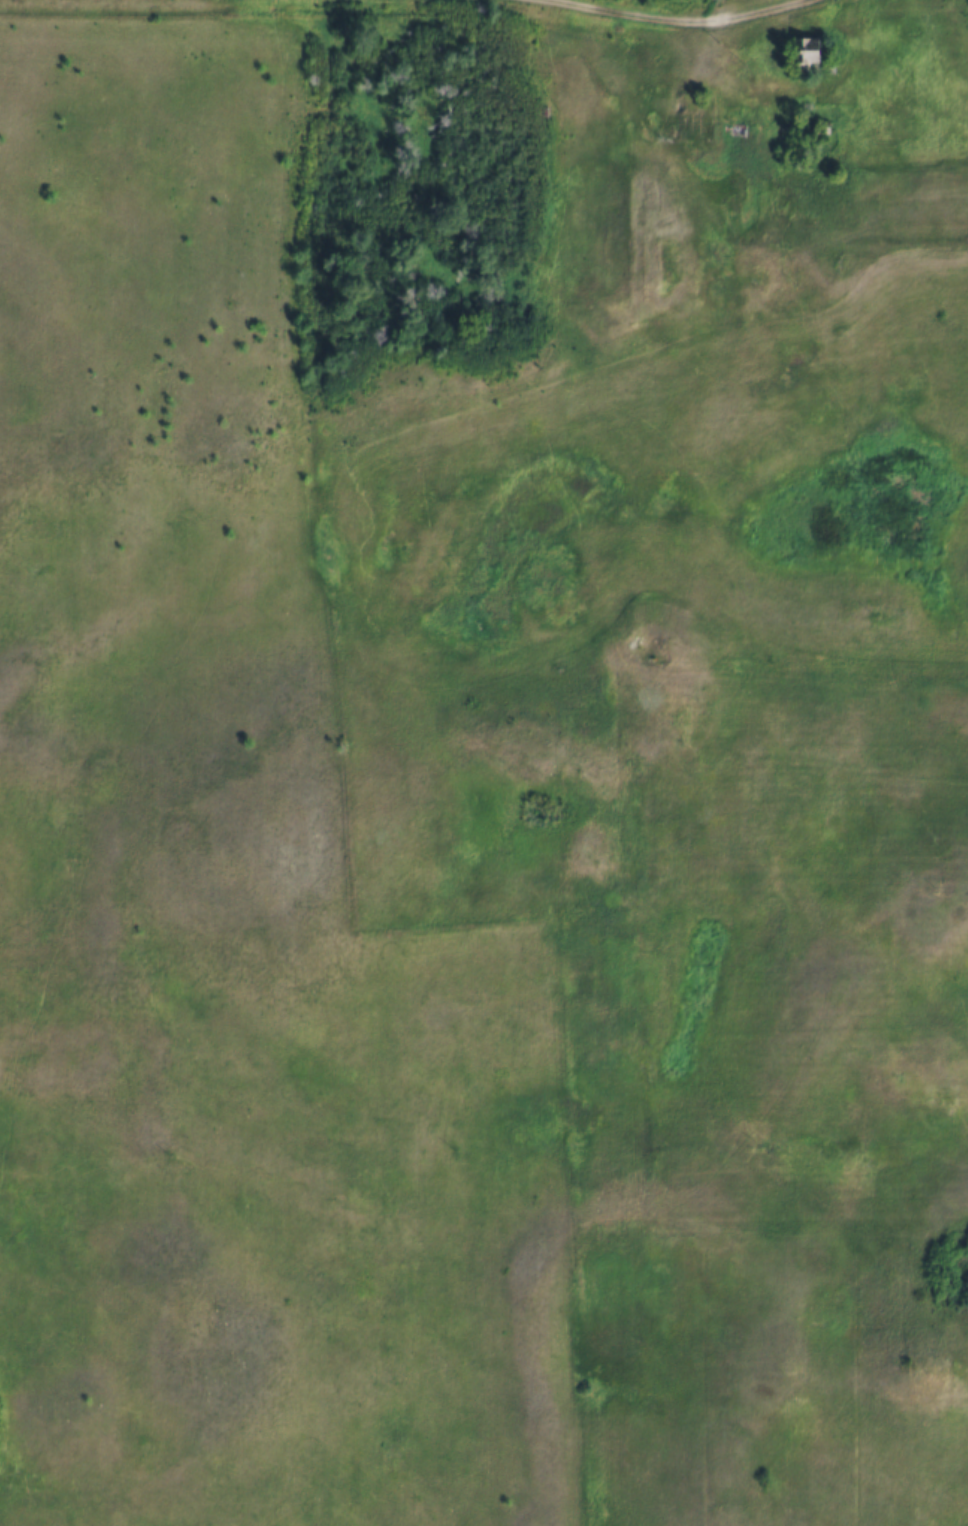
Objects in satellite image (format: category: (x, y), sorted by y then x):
road: (695, 17)
building: (807, 47)
building: (825, 123)
building: (736, 133)

